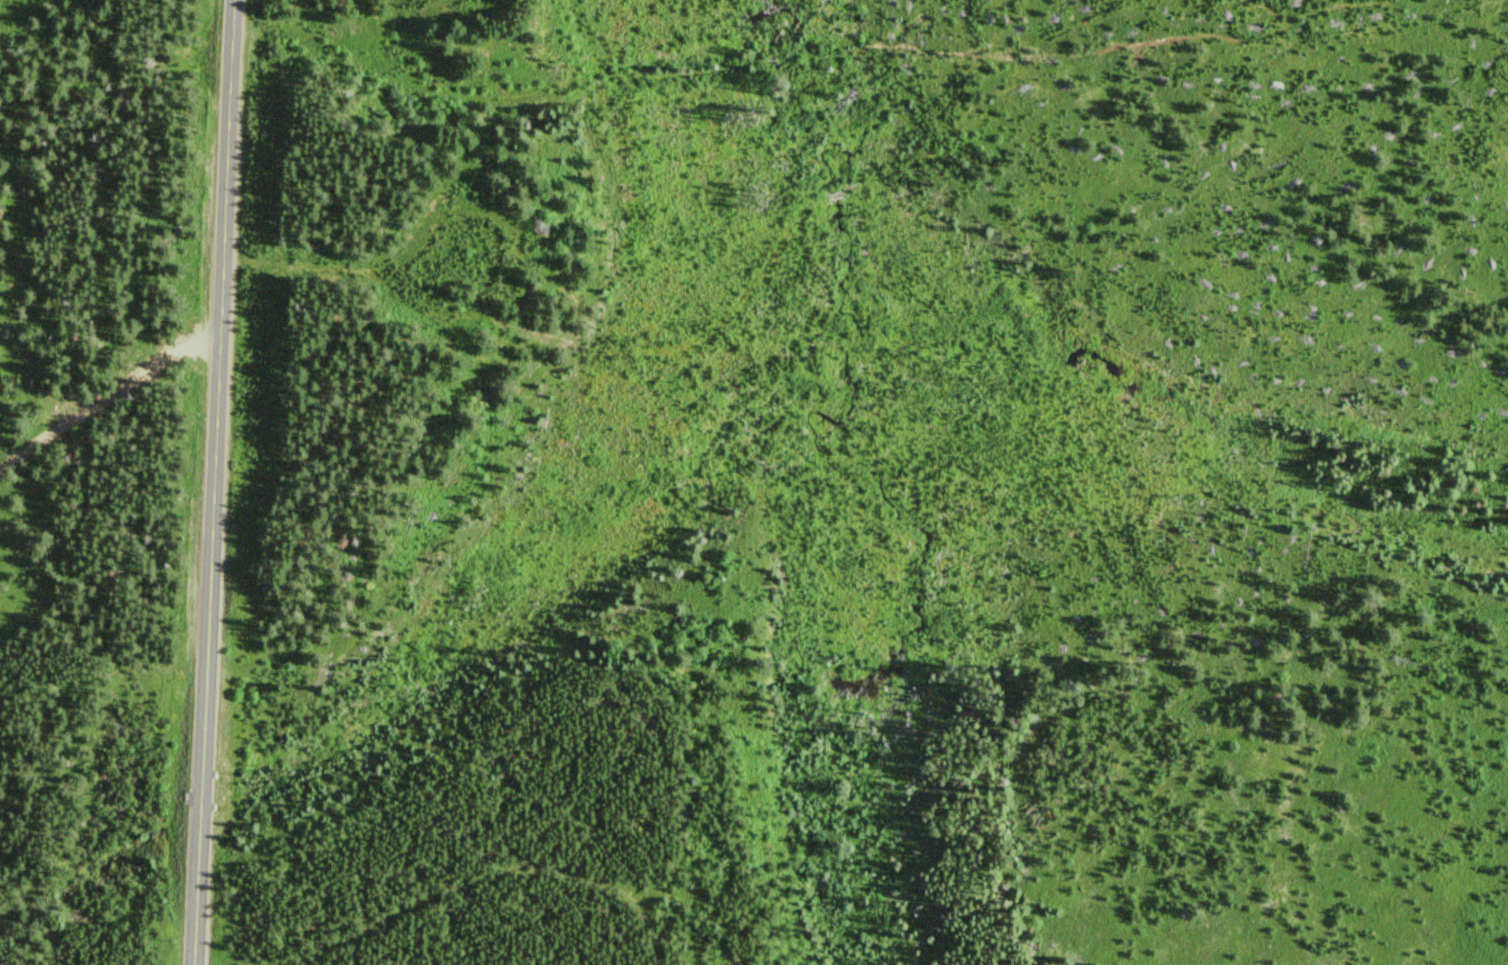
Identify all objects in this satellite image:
road: (106, 394)
road: (206, 482)
road: (96, 879)

